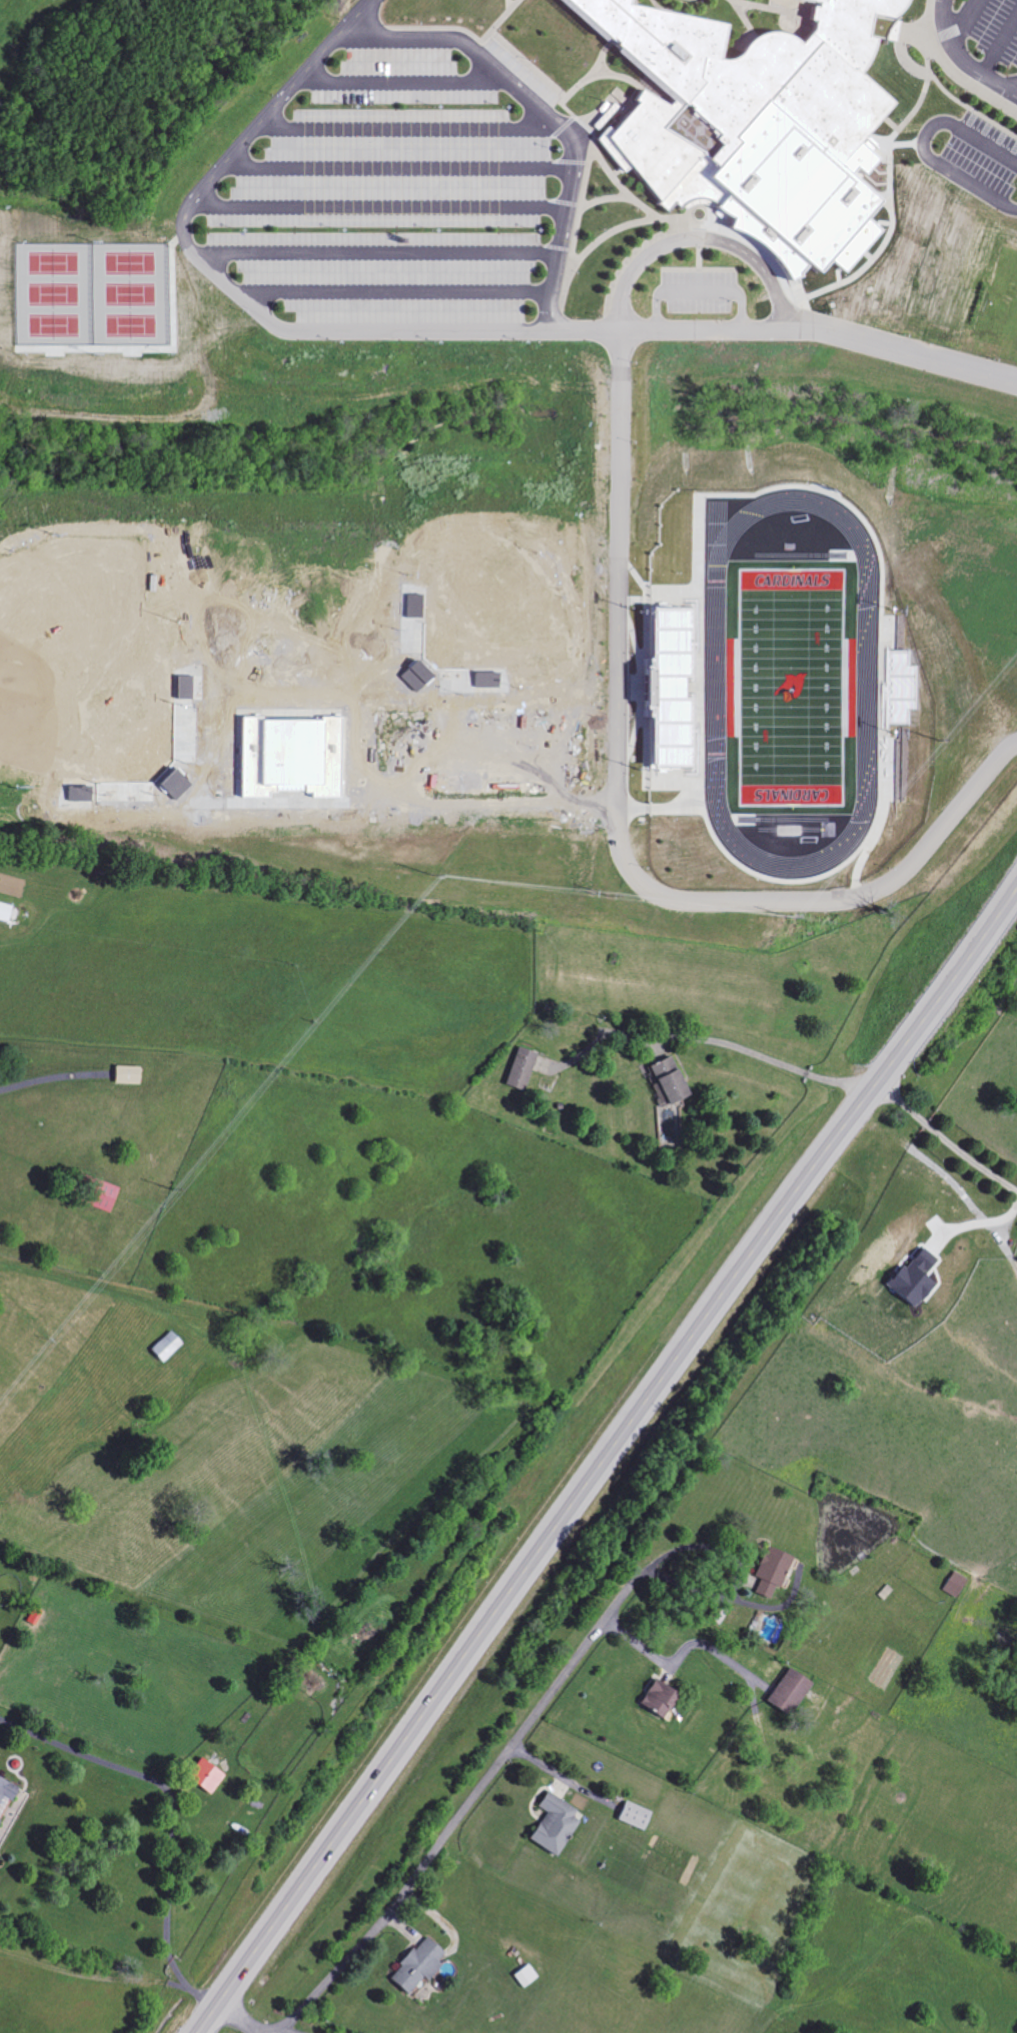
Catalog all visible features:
road: (957, 61)
road: (389, 87)
building: (749, 114)
road: (543, 118)
road: (388, 134)
road: (986, 149)
road: (942, 170)
road: (382, 174)
road: (366, 211)
road: (697, 241)
road: (367, 257)
road: (383, 293)
road: (717, 293)
road: (430, 331)
building: (673, 685)
road: (611, 839)
building: (4, 912)
road: (705, 1039)
building: (520, 1069)
building: (126, 1075)
building: (667, 1080)
road: (943, 1140)
road: (1003, 1238)
building: (911, 1279)
building: (165, 1346)
road: (607, 1458)
road: (730, 1561)
building: (769, 1572)
building: (954, 1584)
road: (678, 1657)
building: (786, 1692)
building: (657, 1699)
building: (204, 1776)
road: (159, 1787)
building: (7, 1790)
road: (462, 1815)
building: (633, 1816)
building: (0, 1820)
building: (553, 1825)
building: (415, 1966)
road: (176, 1973)
building: (525, 1976)
road: (199, 1997)
road: (238, 2022)
road: (258, 2032)

